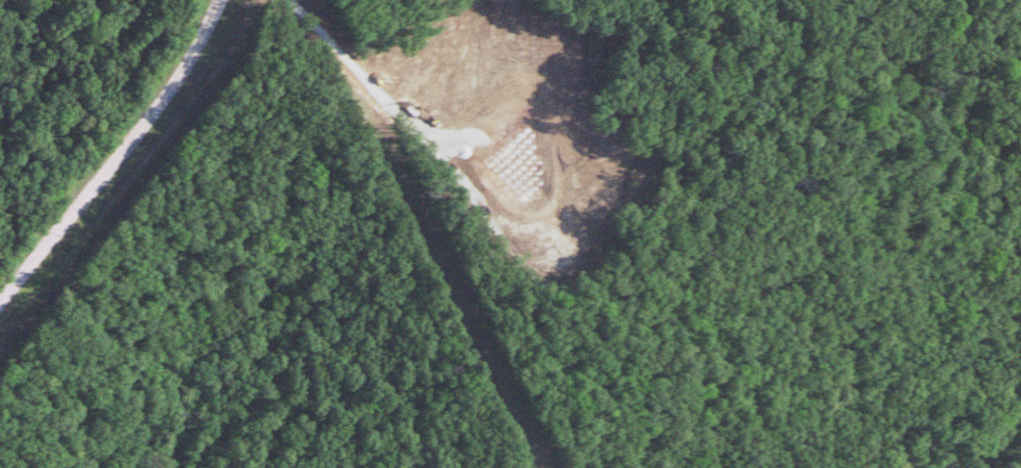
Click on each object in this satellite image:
road: (119, 157)

